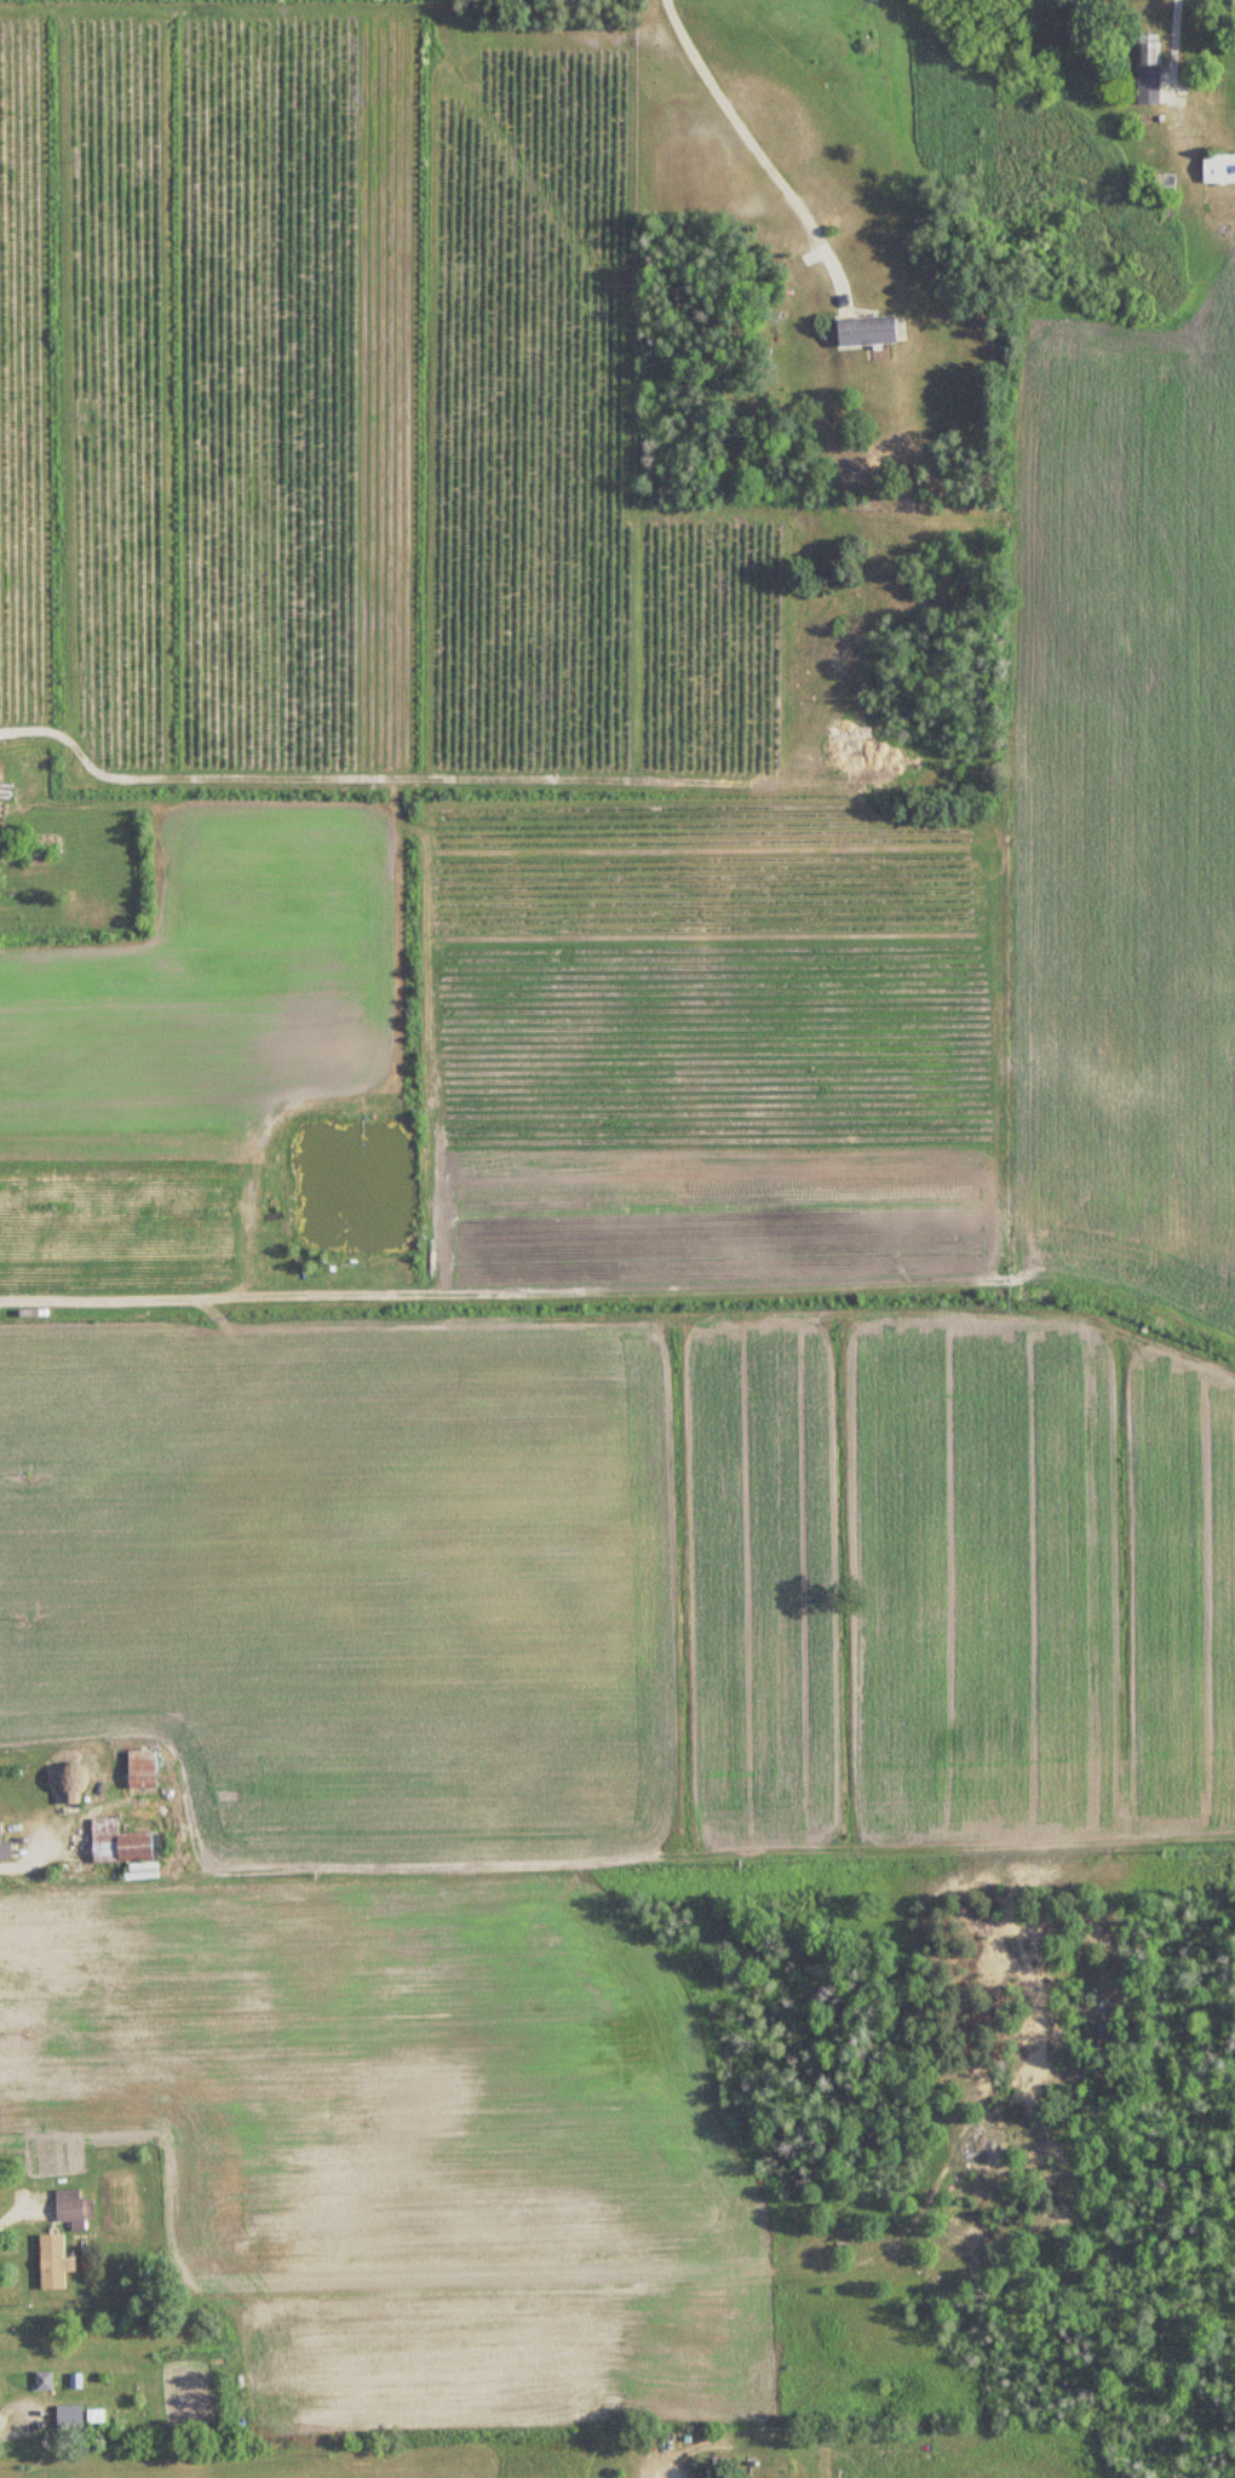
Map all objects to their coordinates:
building: (1149, 69)
road: (758, 144)
building: (1219, 168)
building: (1162, 185)
building: (867, 331)
building: (1, 845)
building: (143, 1769)
building: (71, 1783)
building: (119, 1842)
building: (5, 1847)
building: (74, 2205)
road: (7, 2216)
building: (54, 2261)
building: (45, 2380)
road: (34, 2410)
building: (70, 2416)
building: (97, 2416)

